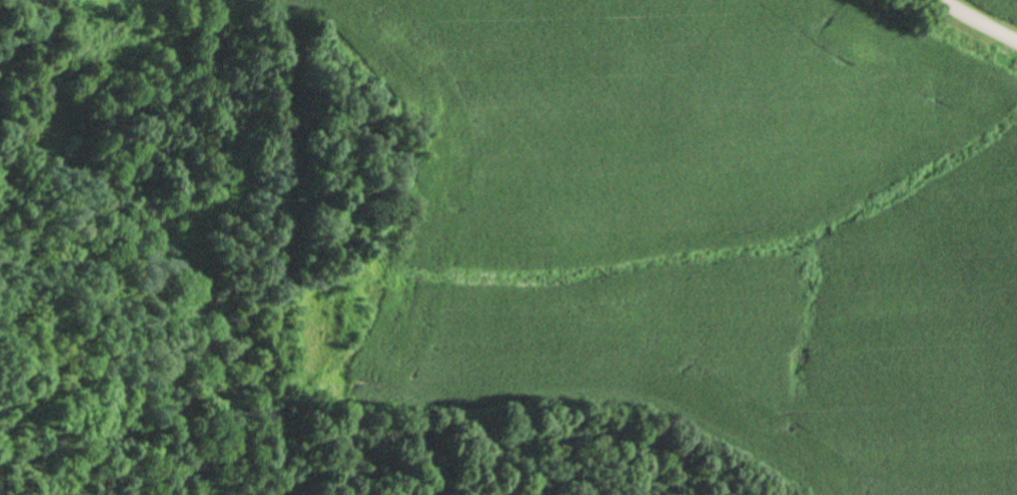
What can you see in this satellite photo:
road: (984, 18)

